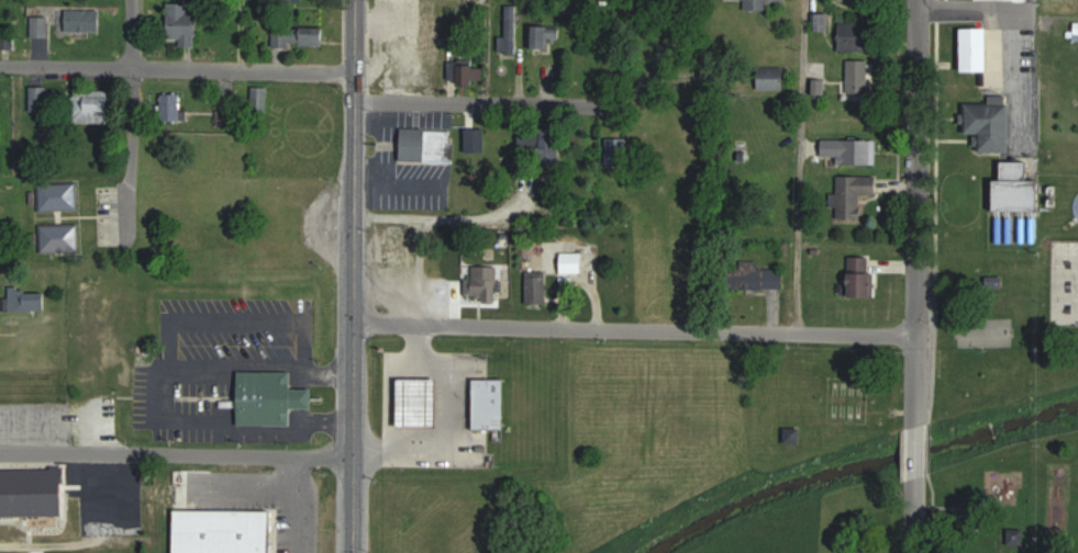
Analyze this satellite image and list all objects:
building: (760, 4)
road: (971, 11)
building: (84, 21)
building: (41, 25)
building: (185, 25)
road: (241, 34)
building: (294, 35)
building: (544, 35)
building: (855, 36)
building: (977, 49)
road: (178, 67)
road: (1018, 67)
building: (466, 71)
building: (774, 77)
building: (858, 78)
building: (40, 98)
building: (259, 99)
building: (92, 105)
building: (174, 106)
road: (552, 109)
road: (132, 123)
building: (991, 125)
building: (0, 137)
building: (441, 144)
building: (619, 150)
building: (852, 150)
road: (797, 165)
building: (1020, 189)
building: (852, 194)
building: (59, 196)
road: (430, 214)
building: (63, 238)
building: (573, 263)
road: (354, 275)
building: (758, 276)
building: (863, 276)
road: (920, 276)
building: (486, 281)
building: (537, 286)
building: (27, 298)
road: (636, 326)
road: (167, 356)
road: (236, 364)
building: (270, 398)
building: (420, 403)
building: (490, 404)
road: (448, 417)
road: (176, 453)
road: (247, 486)
building: (30, 488)
road: (297, 504)
building: (75, 517)
road: (91, 538)

